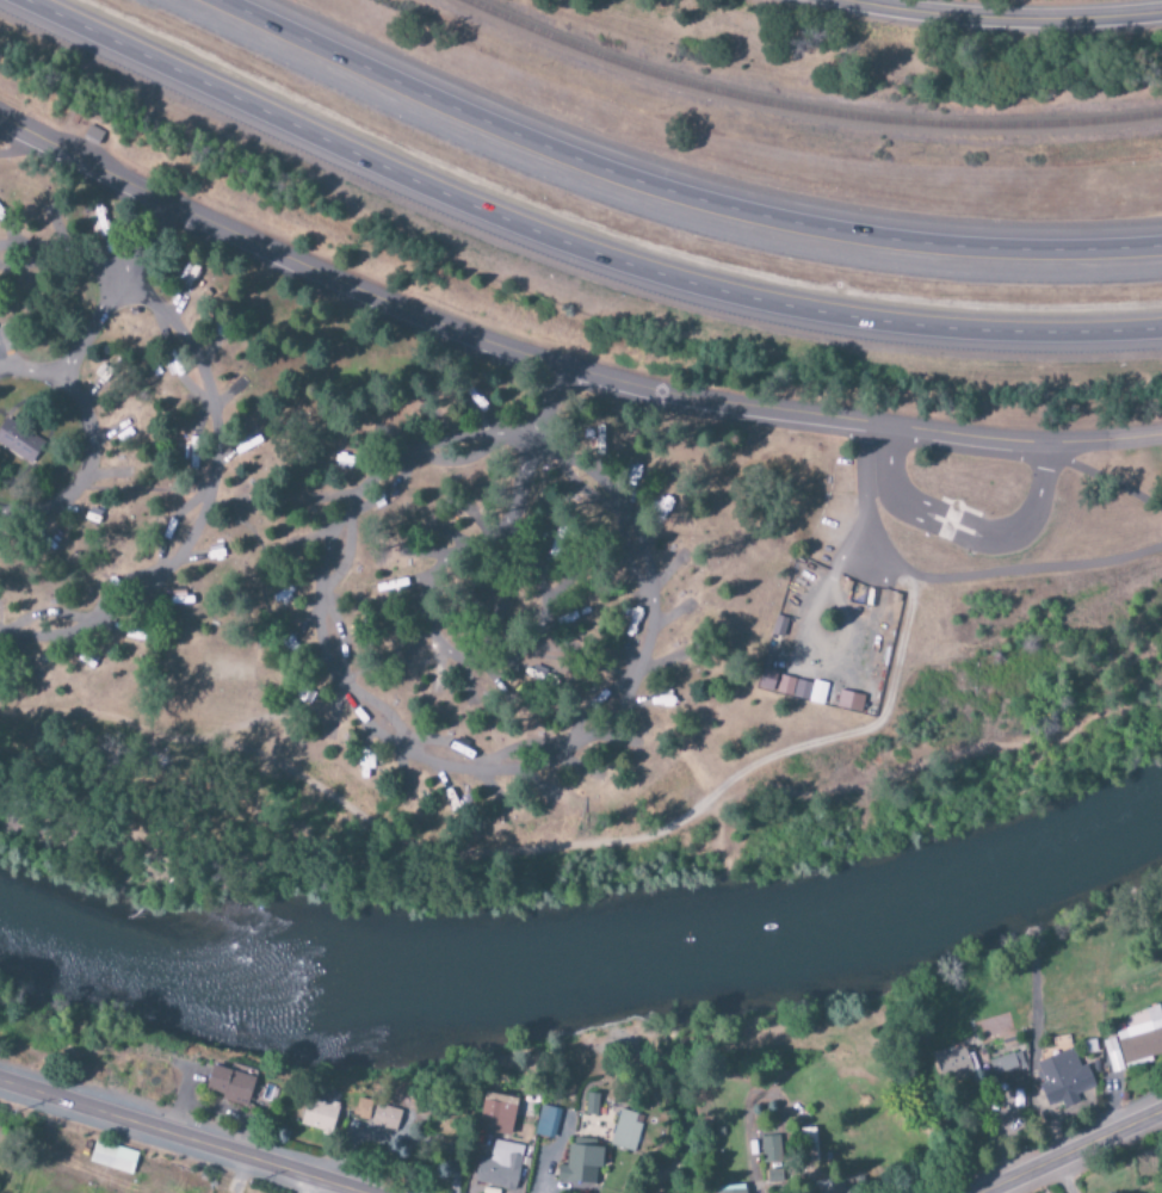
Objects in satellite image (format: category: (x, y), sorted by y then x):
road: (1003, 17)
railway: (791, 118)
road: (21, 136)
road: (21, 147)
road: (673, 193)
road: (126, 233)
road: (571, 248)
road: (79, 323)
road: (530, 358)
road: (206, 439)
building: (18, 440)
road: (1107, 441)
road: (89, 443)
road: (519, 446)
road: (1106, 481)
road: (193, 500)
road: (960, 523)
road: (951, 579)
road: (416, 604)
building: (767, 680)
building: (793, 688)
building: (849, 701)
road: (198, 736)
road: (443, 767)
road: (585, 853)
river: (593, 973)
building: (1141, 1037)
building: (1112, 1056)
building: (953, 1065)
building: (1007, 1071)
building: (1063, 1078)
building: (229, 1086)
building: (591, 1105)
building: (363, 1109)
building: (495, 1114)
building: (319, 1115)
building: (385, 1119)
building: (546, 1123)
building: (626, 1131)
road: (177, 1142)
building: (804, 1145)
building: (771, 1150)
road: (1077, 1154)
building: (112, 1158)
building: (500, 1167)
building: (580, 1167)
building: (773, 1176)
road: (305, 1186)
building: (731, 1189)

